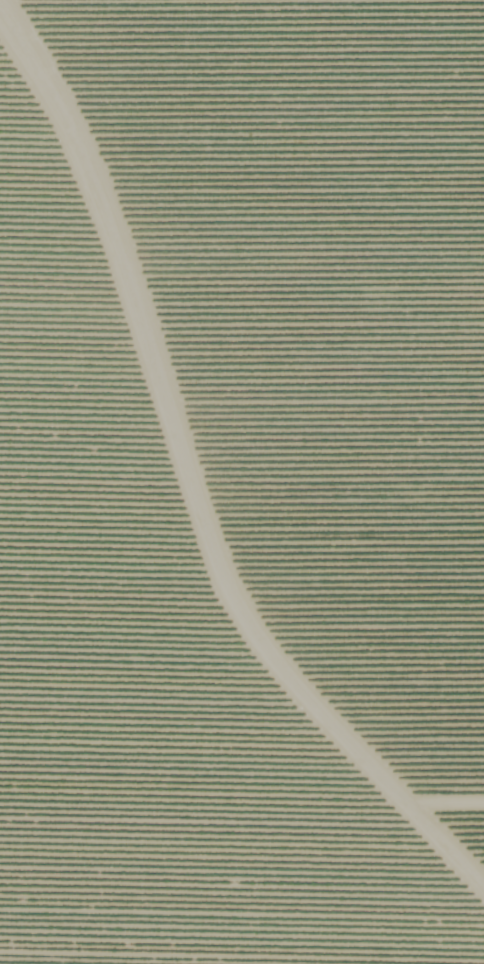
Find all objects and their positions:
road: (231, 440)

